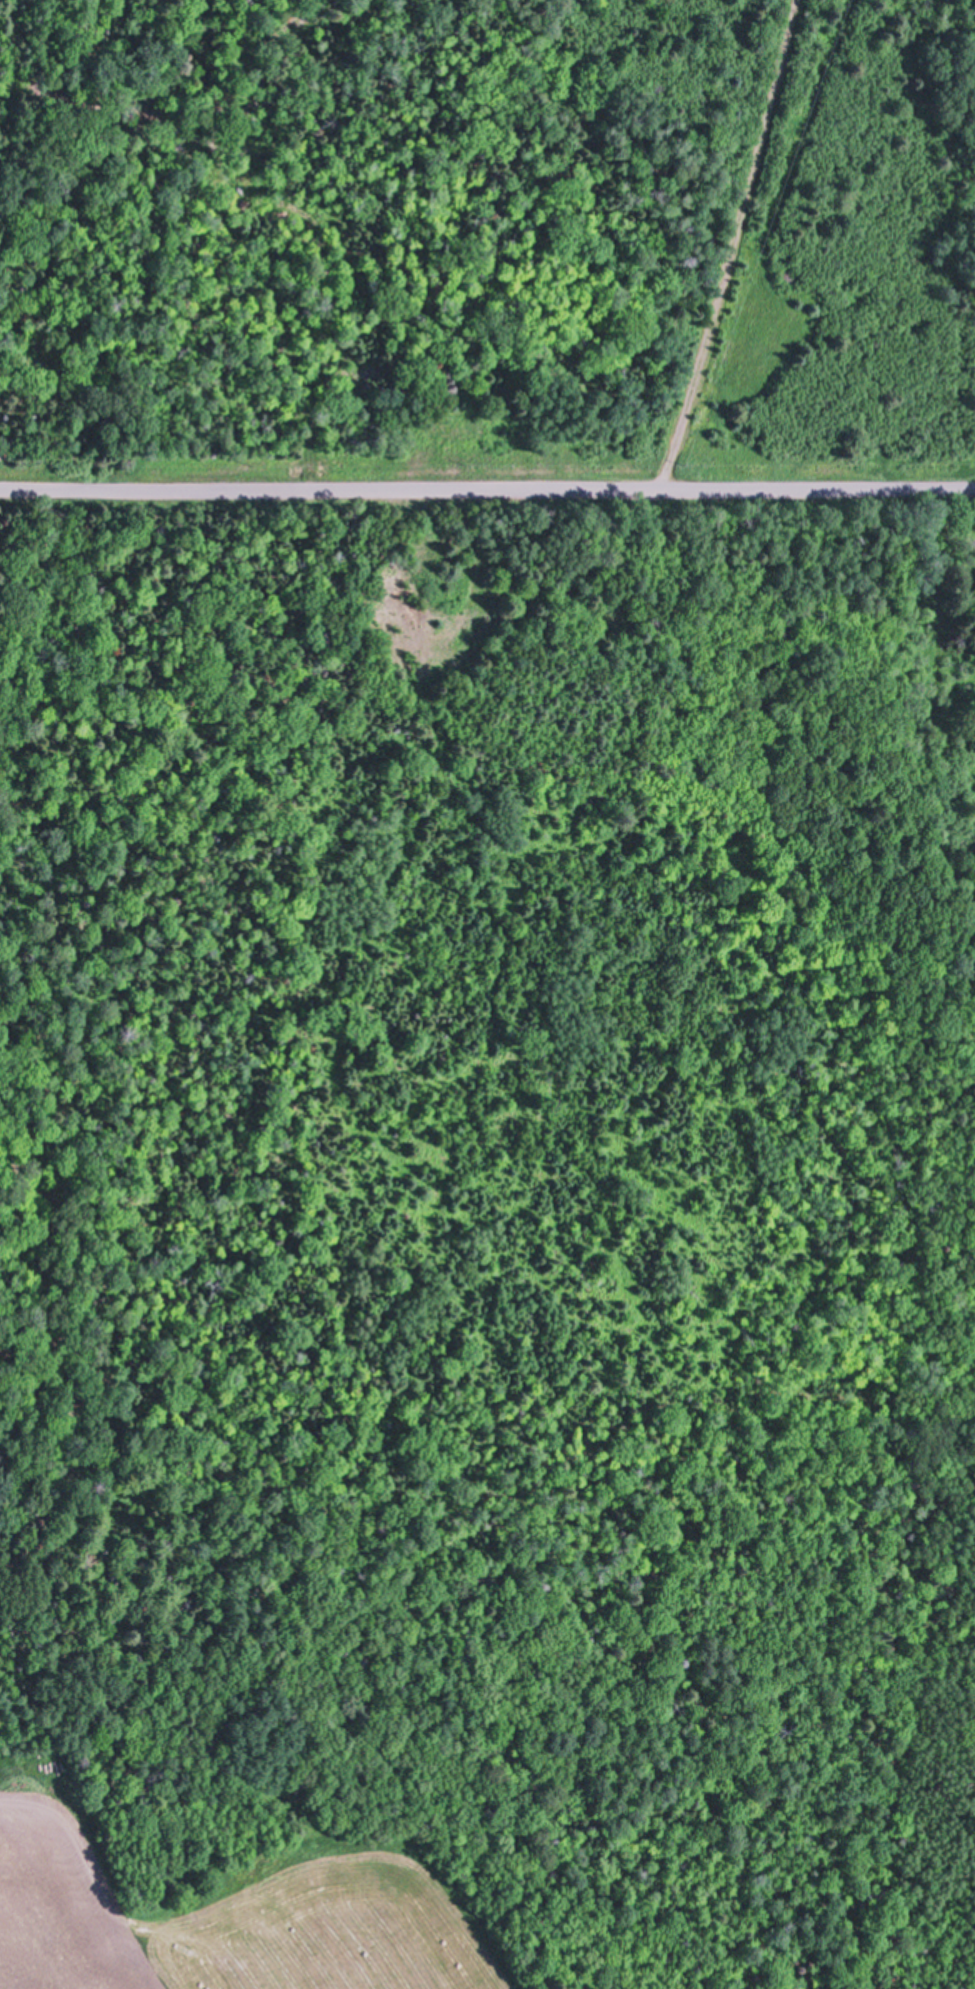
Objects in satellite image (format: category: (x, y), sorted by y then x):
road: (732, 246)
road: (487, 489)

